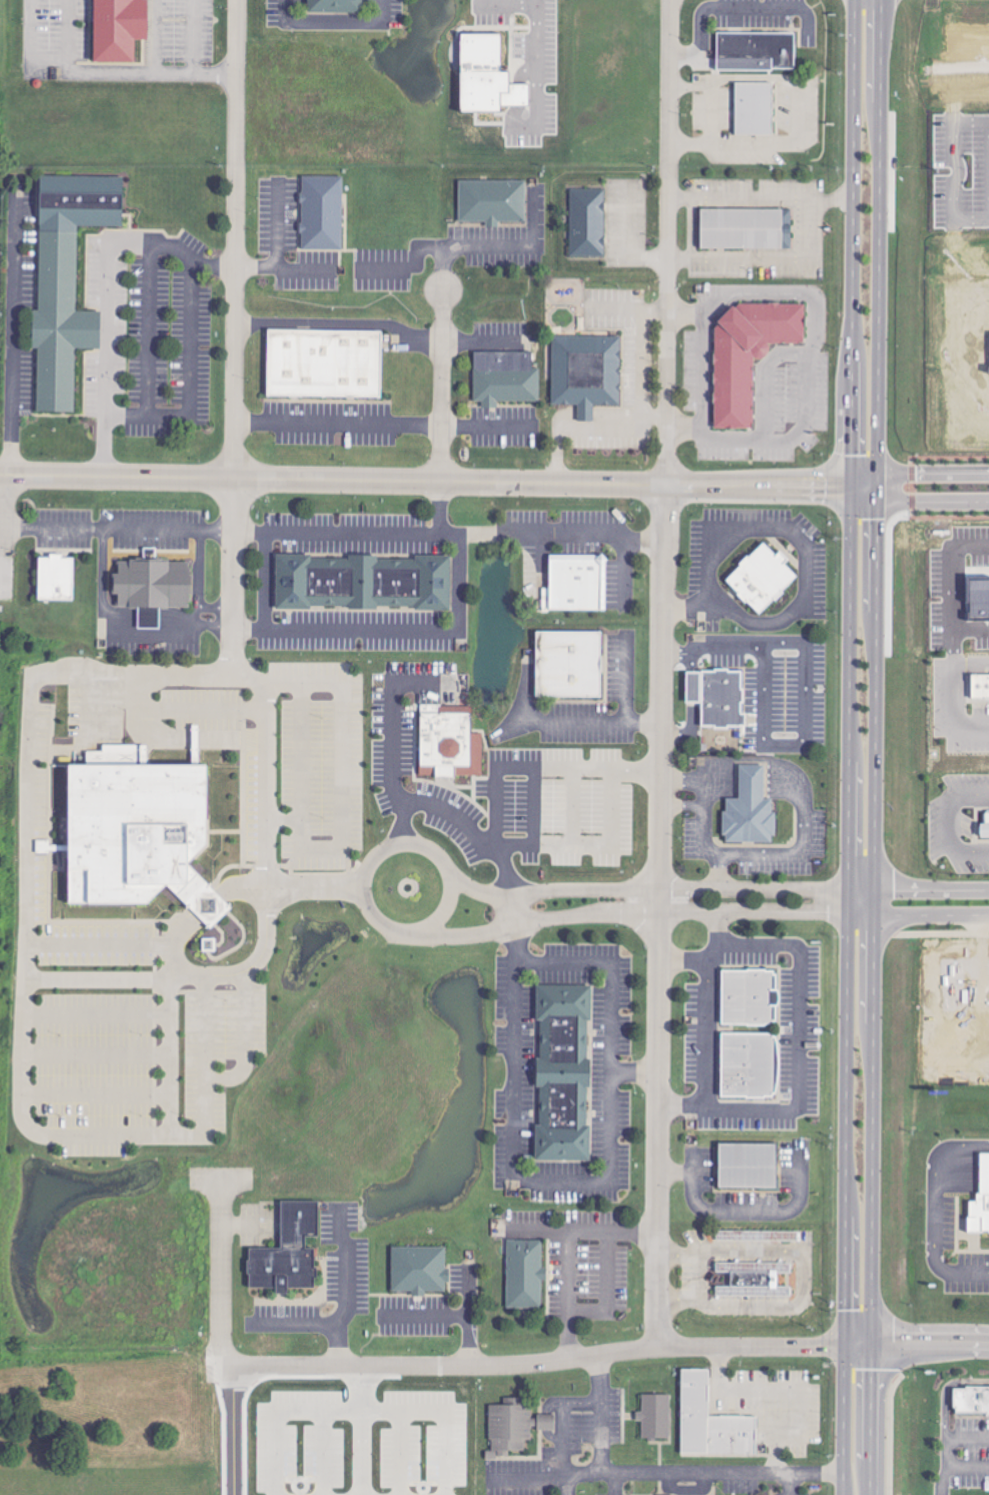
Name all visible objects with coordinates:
building: (335, 6)
road: (331, 19)
building: (118, 29)
road: (200, 37)
building: (756, 51)
road: (538, 62)
road: (100, 72)
road: (217, 74)
building: (487, 76)
building: (754, 108)
road: (957, 171)
building: (492, 201)
road: (759, 201)
building: (322, 213)
building: (588, 223)
road: (877, 228)
building: (746, 229)
road: (681, 231)
road: (851, 236)
road: (233, 238)
road: (667, 242)
road: (497, 253)
road: (763, 261)
building: (67, 280)
road: (339, 327)
road: (11, 343)
building: (749, 355)
road: (807, 358)
building: (325, 363)
building: (586, 372)
road: (700, 372)
building: (505, 378)
road: (441, 385)
road: (188, 393)
road: (651, 416)
road: (637, 422)
road: (336, 431)
road: (483, 432)
road: (931, 473)
road: (331, 479)
traffic signals: (851, 482)
road: (863, 482)
road: (757, 483)
road: (2, 499)
road: (928, 501)
road: (114, 527)
road: (550, 534)
road: (248, 542)
road: (99, 562)
road: (229, 564)
road: (197, 567)
road: (803, 575)
building: (56, 578)
building: (762, 578)
building: (363, 583)
building: (576, 584)
road: (954, 584)
building: (153, 586)
building: (979, 600)
road: (188, 612)
road: (223, 615)
road: (135, 631)
road: (309, 636)
road: (247, 637)
road: (707, 641)
road: (690, 660)
building: (569, 664)
road: (227, 665)
road: (690, 685)
building: (980, 687)
building: (717, 697)
road: (686, 728)
road: (974, 729)
road: (801, 737)
building: (450, 746)
road: (298, 749)
road: (756, 758)
road: (537, 764)
road: (393, 766)
road: (339, 777)
road: (681, 778)
road: (681, 805)
building: (750, 810)
road: (944, 822)
building: (985, 828)
road: (472, 830)
building: (137, 834)
road: (585, 841)
road: (408, 844)
road: (702, 847)
road: (23, 851)
road: (791, 852)
road: (362, 885)
road: (929, 886)
road: (552, 890)
road: (754, 898)
road: (861, 898)
road: (444, 905)
road: (848, 909)
road: (659, 915)
road: (926, 915)
road: (503, 926)
road: (97, 943)
building: (209, 946)
road: (716, 951)
road: (181, 966)
road: (872, 975)
road: (614, 976)
building: (749, 997)
road: (709, 1008)
road: (804, 1039)
building: (748, 1066)
building: (564, 1075)
building: (748, 1164)
building: (981, 1201)
road: (931, 1210)
building: (778, 1235)
building: (288, 1250)
road: (572, 1256)
building: (419, 1269)
building: (525, 1273)
road: (695, 1274)
road: (802, 1275)
building: (751, 1277)
road: (350, 1289)
road: (223, 1334)
traffic signals: (869, 1343)
traffic signals: (844, 1345)
road: (606, 1355)
building: (972, 1401)
road: (598, 1414)
building: (655, 1415)
road: (843, 1419)
building: (711, 1422)
road: (364, 1430)
road: (945, 1451)
road: (560, 1455)
road: (701, 1471)
road: (940, 1476)
road: (568, 1483)
road: (616, 1483)
road: (786, 1483)

